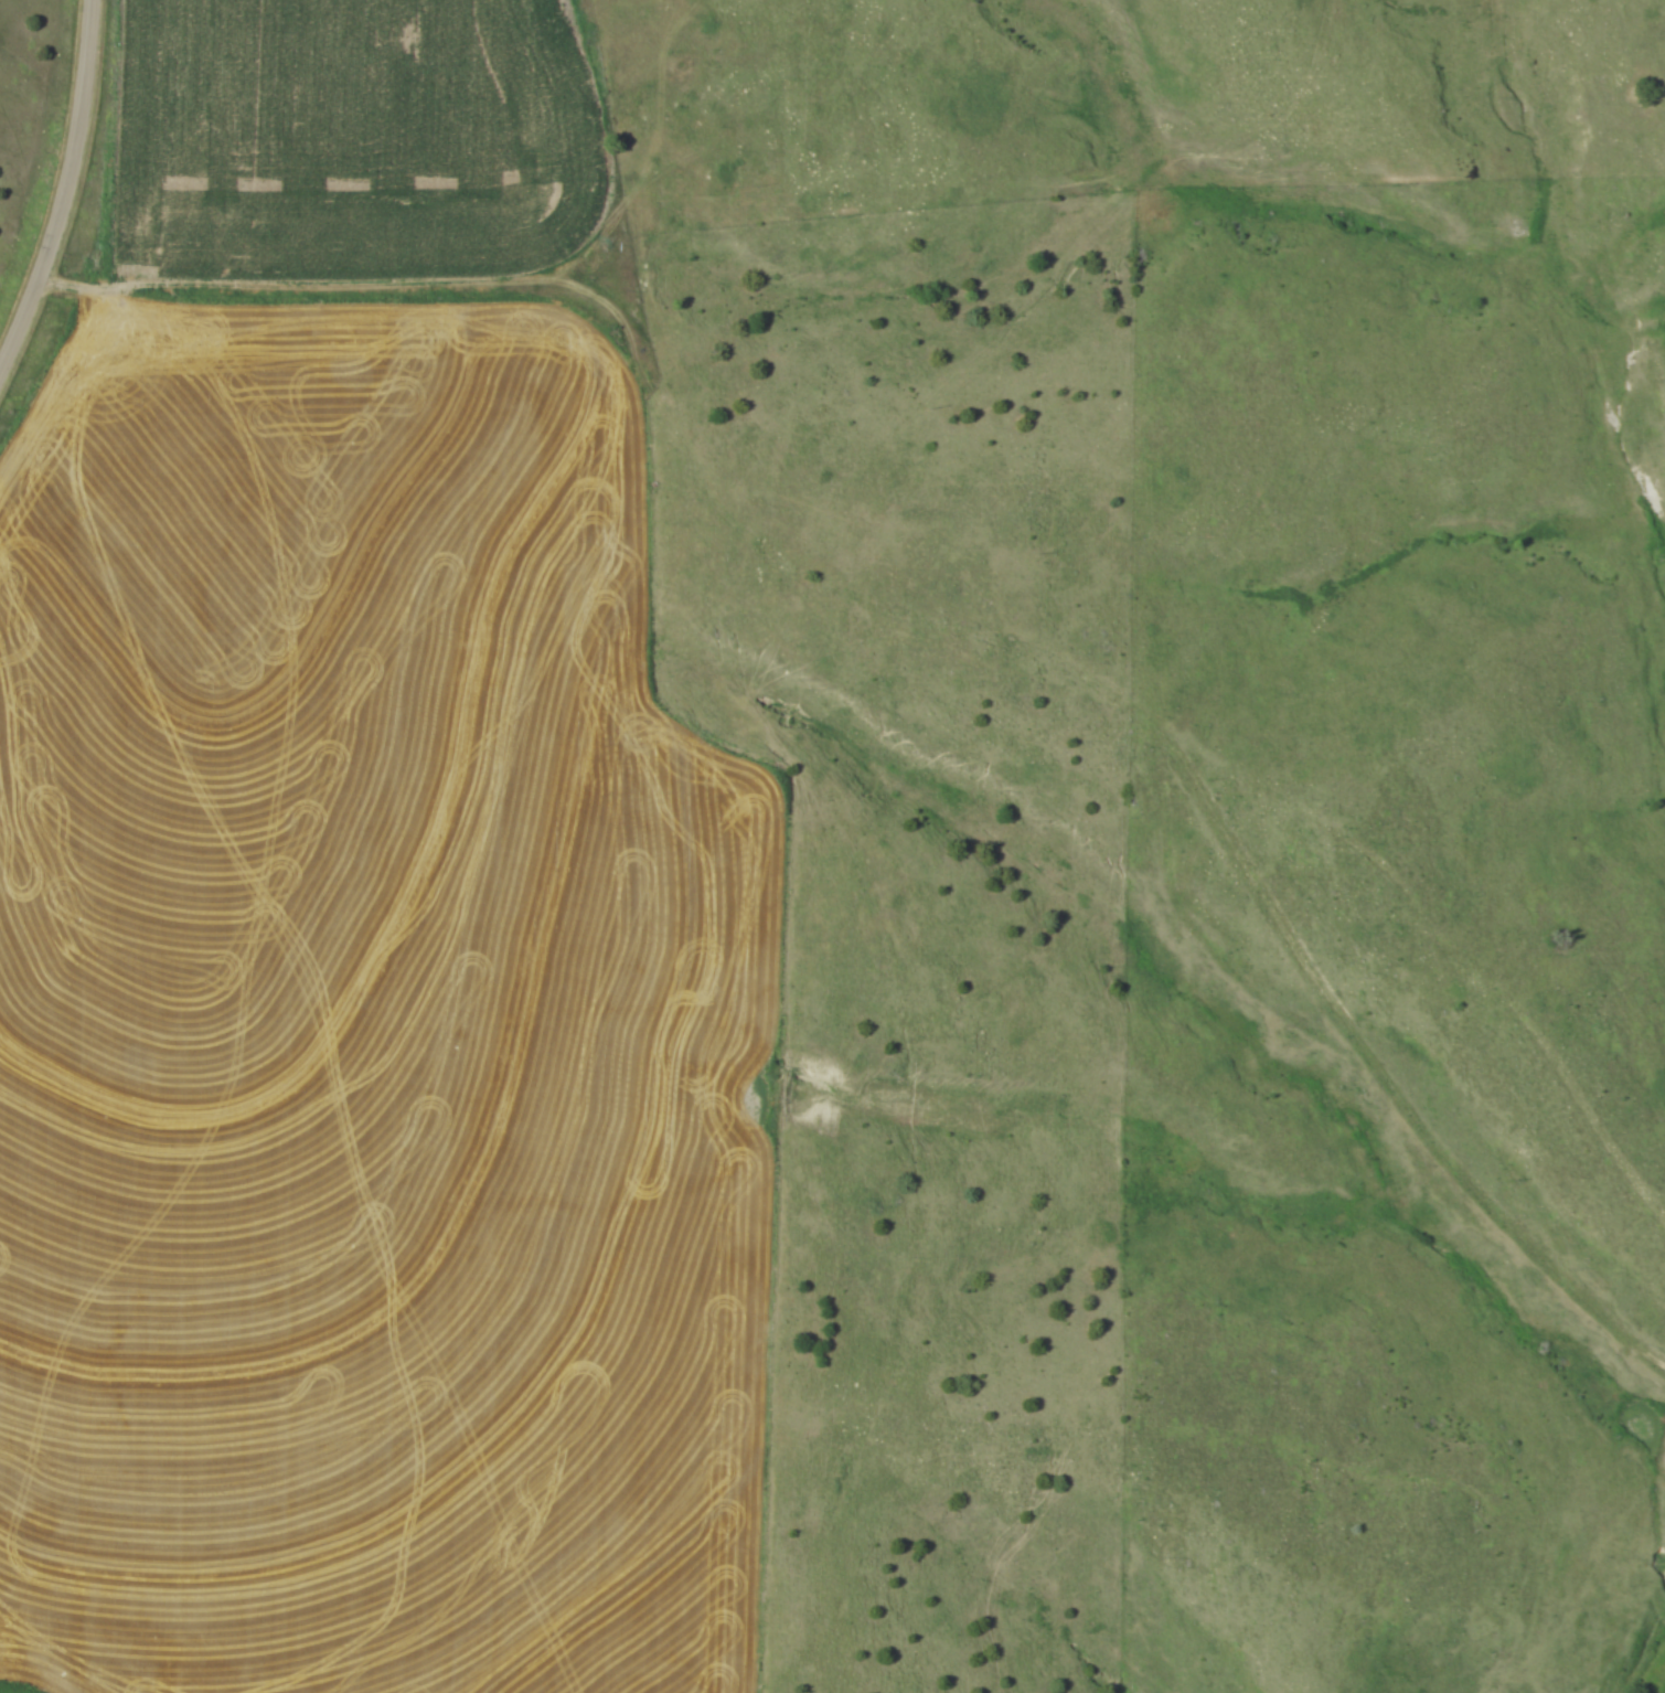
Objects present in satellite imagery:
park: (28, 117)
road: (66, 190)
crop: (370, 1027)

